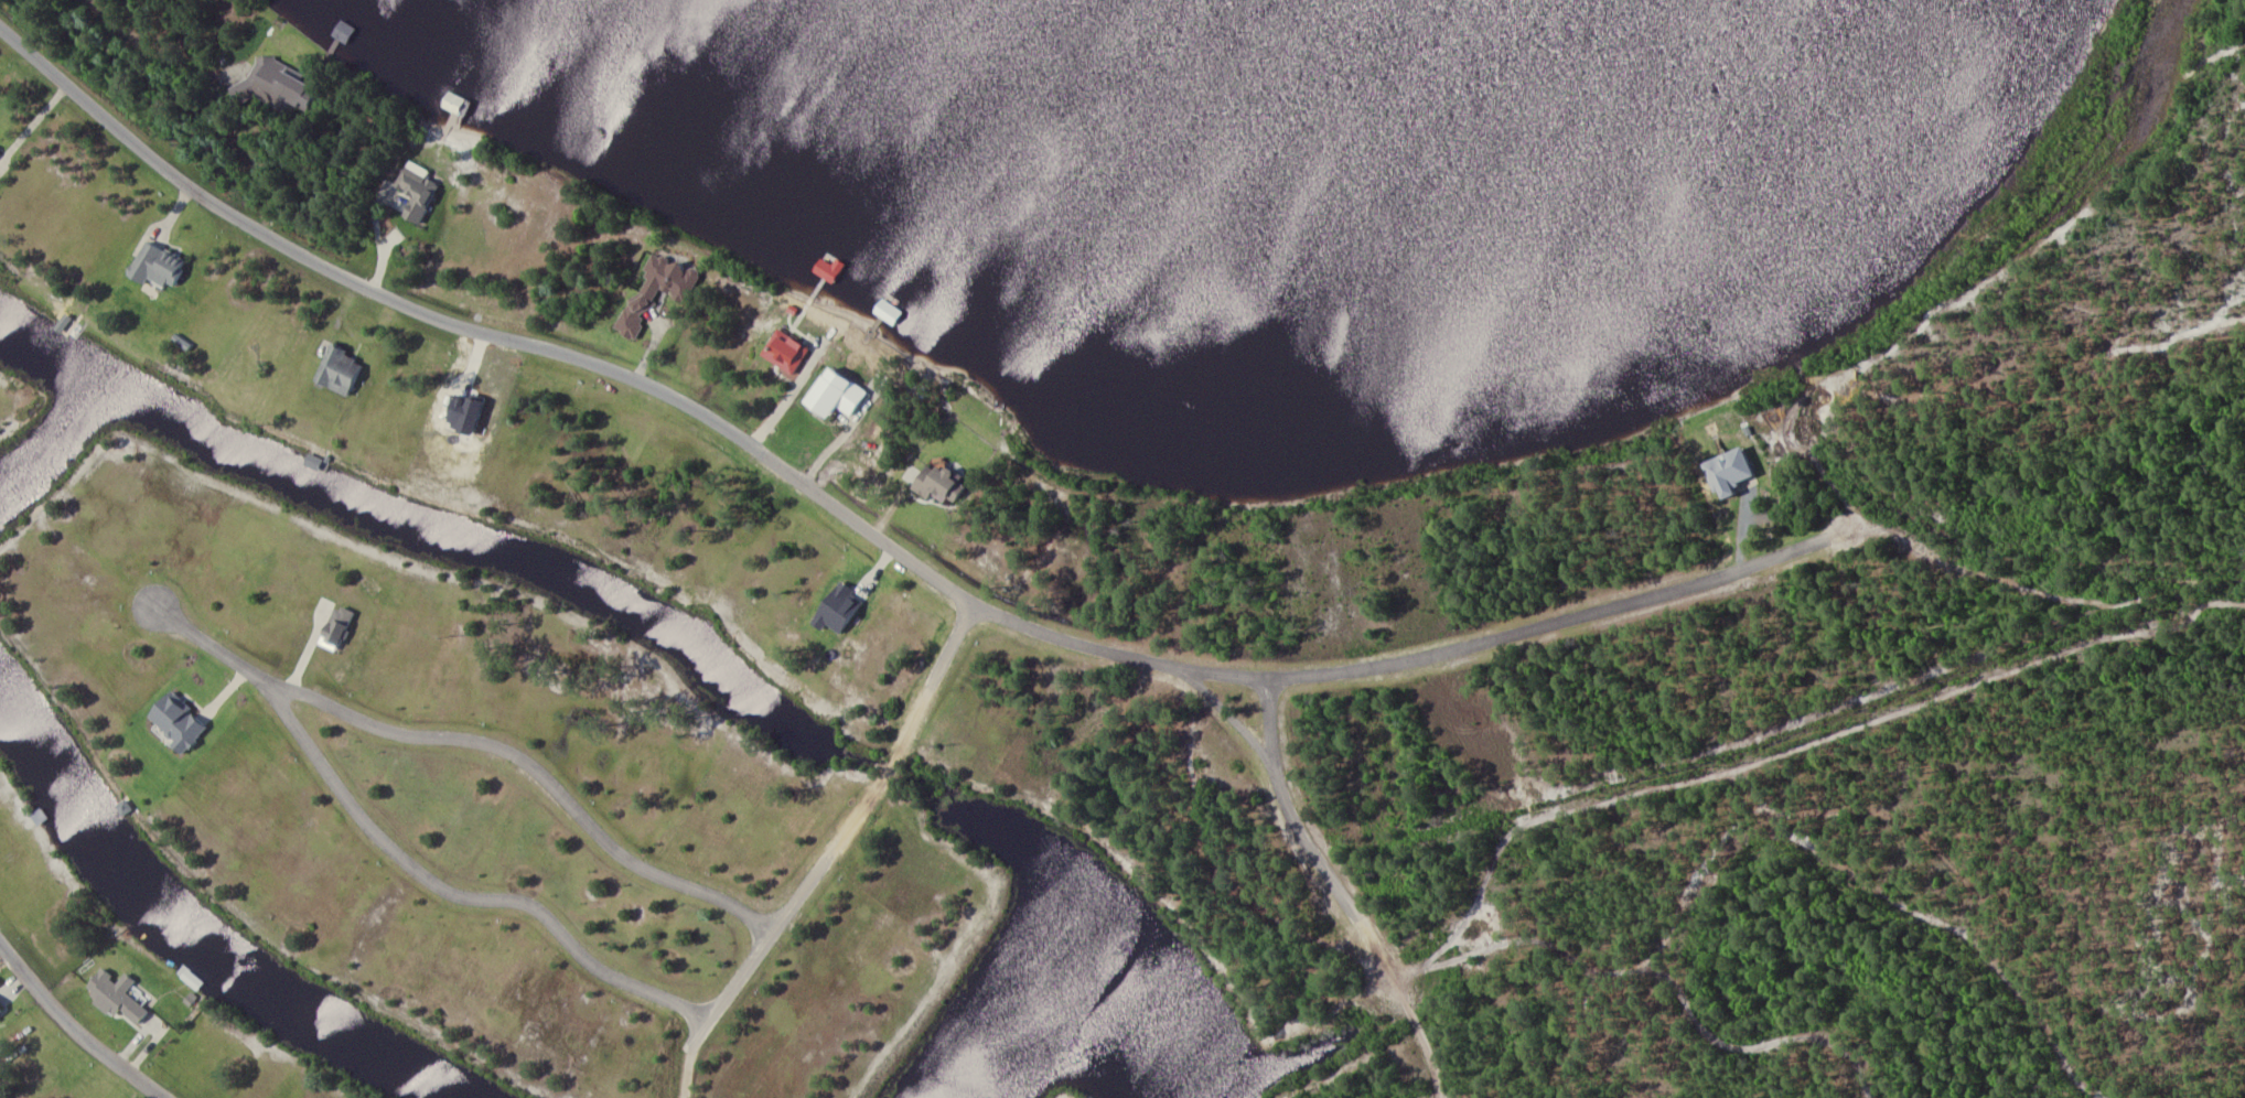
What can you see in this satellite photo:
building: (277, 86)
building: (415, 191)
building: (160, 269)
building: (649, 291)
building: (785, 353)
building: (341, 370)
building: (833, 395)
building: (1728, 473)
building: (941, 487)
road: (878, 536)
building: (116, 997)
building: (0, 1013)
road: (73, 1030)

